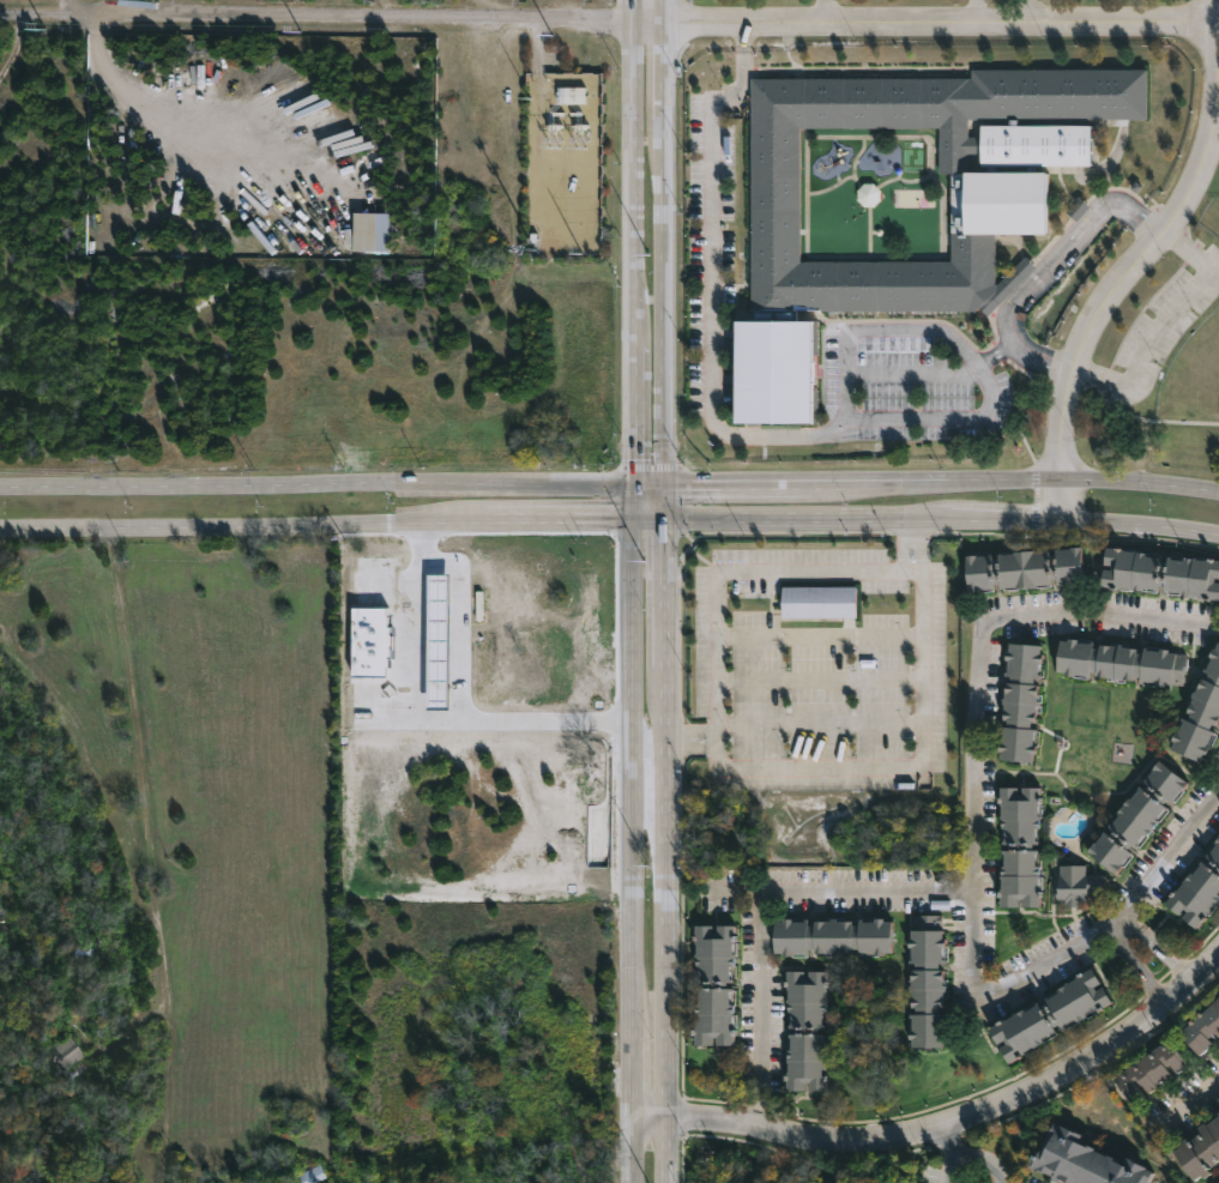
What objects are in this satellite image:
road: (634, 13)
road: (660, 13)
road: (825, 13)
road: (980, 14)
road: (1033, 14)
road: (316, 23)
road: (647, 26)
road: (937, 29)
road: (537, 61)
road: (660, 73)
road: (1218, 113)
road: (170, 114)
road: (635, 179)
building: (998, 204)
building: (1076, 209)
building: (372, 233)
road: (1074, 245)
road: (1145, 260)
road: (662, 303)
road: (1164, 324)
road: (1000, 354)
road: (1046, 356)
road: (635, 409)
road: (790, 434)
road: (898, 483)
road: (1086, 483)
road: (316, 485)
road: (752, 485)
traffic signals: (635, 487)
road: (648, 487)
traffic signals: (662, 487)
road: (663, 502)
road: (634, 503)
traffic signals: (664, 519)
road: (768, 519)
road: (911, 519)
road: (1004, 519)
road: (574, 520)
traffic signals: (634, 520)
road: (441, 521)
road: (199, 525)
road: (1139, 525)
building: (1024, 569)
road: (734, 573)
building: (1160, 574)
building: (819, 602)
building: (1120, 664)
building: (1018, 702)
building: (1200, 714)
road: (429, 729)
road: (905, 765)
building: (1136, 816)
building: (1016, 844)
road: (533, 849)
road: (634, 851)
road: (664, 851)
road: (150, 853)
road: (979, 853)
building: (1075, 883)
building: (1196, 888)
road: (843, 891)
building: (831, 935)
road: (1157, 947)
road: (1139, 964)
building: (924, 979)
road: (766, 982)
building: (711, 984)
building: (1046, 1013)
building: (1201, 1026)
building: (803, 1030)
building: (71, 1060)
building: (1148, 1069)
road: (1191, 1112)
road: (951, 1122)
road: (955, 1141)
building: (1199, 1147)
road: (971, 1160)
building: (1082, 1160)
building: (312, 1175)
building: (1218, 1182)

